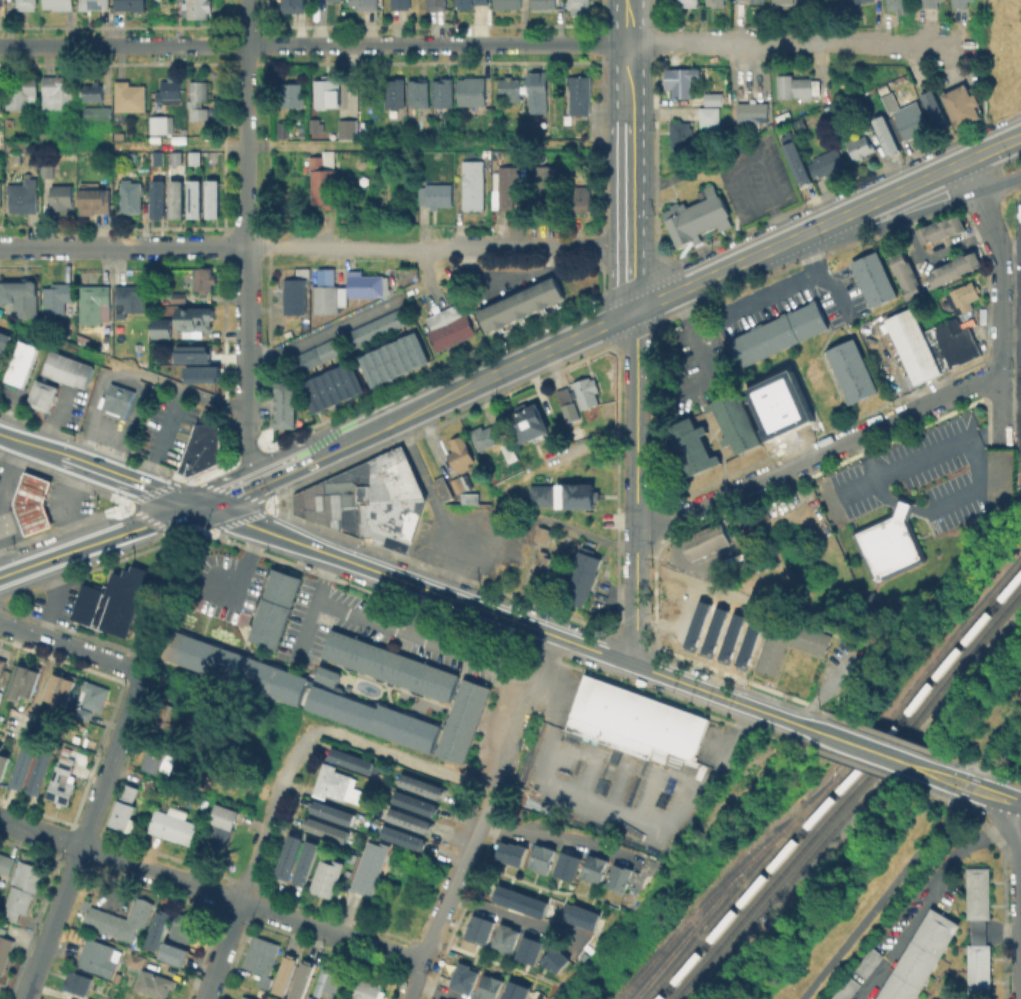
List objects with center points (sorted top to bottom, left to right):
building: (338, 0)
building: (757, 1)
building: (859, 1)
building: (689, 2)
building: (716, 2)
building: (786, 2)
building: (0, 3)
building: (59, 3)
building: (294, 3)
building: (578, 3)
building: (27, 4)
building: (95, 4)
building: (132, 4)
building: (468, 4)
building: (508, 4)
building: (543, 4)
building: (900, 4)
building: (931, 4)
building: (961, 4)
building: (366, 5)
building: (402, 5)
building: (437, 5)
building: (198, 8)
road: (654, 14)
road: (654, 43)
road: (794, 43)
road: (315, 44)
building: (682, 85)
building: (797, 85)
building: (884, 87)
building: (510, 88)
building: (472, 90)
building: (58, 91)
building: (93, 91)
building: (170, 91)
building: (395, 91)
building: (538, 91)
building: (22, 92)
building: (198, 92)
building: (327, 92)
building: (419, 92)
building: (443, 92)
building: (0, 94)
building: (293, 94)
road: (1004, 95)
building: (130, 96)
building: (579, 97)
building: (711, 98)
building: (891, 101)
building: (962, 108)
building: (489, 110)
building: (753, 111)
building: (98, 112)
building: (935, 113)
building: (201, 116)
building: (710, 118)
building: (10, 121)
building: (160, 123)
building: (912, 123)
building: (314, 124)
building: (349, 128)
building: (866, 128)
building: (283, 129)
building: (887, 134)
building: (120, 135)
building: (681, 135)
building: (2, 137)
building: (48, 139)
road: (316, 145)
building: (860, 146)
road: (993, 149)
road: (630, 156)
building: (17, 157)
building: (26, 157)
building: (158, 159)
building: (177, 159)
building: (197, 160)
building: (830, 160)
building: (795, 161)
building: (47, 169)
road: (670, 177)
building: (322, 179)
building: (545, 184)
building: (509, 185)
road: (999, 185)
building: (474, 187)
road: (1013, 189)
road: (773, 191)
building: (0, 194)
building: (437, 194)
building: (24, 195)
building: (131, 195)
building: (62, 196)
building: (583, 198)
road: (883, 199)
building: (179, 201)
building: (161, 202)
building: (197, 202)
building: (216, 202)
road: (981, 202)
building: (96, 204)
building: (695, 218)
road: (891, 222)
road: (778, 224)
building: (939, 228)
road: (734, 233)
road: (246, 243)
road: (1009, 244)
road: (24, 247)
road: (148, 247)
road: (347, 247)
road: (539, 247)
road: (935, 250)
building: (950, 267)
building: (903, 274)
road: (717, 275)
building: (204, 278)
building: (875, 282)
building: (366, 285)
road: (827, 287)
road: (771, 292)
building: (294, 295)
building: (57, 296)
building: (179, 296)
building: (326, 296)
building: (964, 297)
building: (21, 299)
building: (96, 299)
building: (131, 300)
building: (519, 303)
building: (198, 320)
building: (449, 326)
building: (380, 328)
building: (163, 330)
road: (324, 330)
building: (782, 337)
road: (1012, 338)
building: (83, 340)
road: (694, 340)
road: (1001, 343)
building: (3, 344)
road: (1011, 346)
building: (932, 347)
building: (190, 353)
building: (4, 356)
building: (319, 357)
building: (396, 362)
building: (23, 363)
building: (282, 364)
road: (516, 365)
building: (67, 368)
road: (122, 368)
road: (829, 372)
building: (851, 372)
building: (200, 373)
building: (335, 389)
building: (586, 391)
building: (41, 394)
building: (119, 397)
road: (1011, 400)
building: (568, 403)
building: (779, 404)
building: (286, 408)
building: (526, 422)
building: (737, 424)
building: (485, 435)
road: (163, 437)
road: (31, 445)
building: (202, 448)
building: (509, 451)
building: (692, 451)
building: (460, 453)
road: (818, 454)
road: (298, 463)
road: (909, 465)
road: (875, 474)
road: (130, 482)
building: (458, 484)
road: (977, 486)
building: (443, 487)
road: (636, 488)
building: (562, 492)
building: (367, 498)
building: (34, 505)
gas station: (34, 505)
road: (68, 505)
road: (436, 505)
road: (0, 506)
traffic signals: (198, 507)
road: (907, 507)
road: (710, 517)
road: (231, 521)
building: (543, 533)
road: (186, 534)
parking lot: (460, 538)
building: (704, 540)
road: (99, 542)
building: (893, 545)
road: (242, 564)
building: (547, 564)
road: (162, 570)
road: (325, 577)
building: (583, 577)
road: (168, 588)
building: (114, 596)
road: (52, 598)
building: (273, 607)
road: (356, 612)
building: (677, 613)
road: (505, 618)
building: (696, 625)
building: (713, 631)
building: (730, 637)
road: (505, 641)
building: (748, 643)
road: (70, 646)
building: (786, 649)
road: (473, 654)
building: (2, 665)
building: (388, 665)
building: (232, 666)
railway: (925, 667)
building: (326, 674)
building: (24, 677)
building: (59, 685)
building: (94, 695)
park: (987, 711)
road: (523, 712)
building: (84, 713)
building: (165, 716)
building: (372, 717)
building: (461, 719)
building: (636, 723)
road: (885, 735)
road: (996, 737)
road: (861, 747)
road: (295, 757)
road: (404, 757)
road: (112, 758)
building: (352, 758)
building: (3, 759)
building: (159, 759)
building: (23, 762)
road: (925, 762)
building: (41, 768)
road: (869, 770)
road: (918, 774)
building: (62, 780)
road: (979, 780)
building: (335, 783)
railway: (839, 784)
road: (967, 785)
building: (423, 786)
railway: (845, 792)
road: (972, 794)
railway: (851, 800)
building: (415, 801)
road: (1016, 801)
building: (126, 810)
building: (333, 811)
building: (224, 812)
building: (409, 819)
building: (174, 825)
building: (327, 828)
building: (403, 836)
building: (219, 838)
road: (562, 838)
road: (262, 842)
building: (513, 852)
building: (286, 856)
building: (543, 857)
building: (303, 862)
building: (6, 863)
building: (569, 866)
building: (597, 867)
building: (369, 870)
road: (1003, 871)
building: (28, 875)
building: (622, 875)
building: (327, 877)
building: (3, 880)
railway: (719, 885)
railway: (736, 889)
road: (211, 891)
building: (976, 892)
road: (452, 894)
road: (932, 896)
park: (874, 899)
road: (882, 899)
building: (518, 900)
building: (18, 901)
railway: (701, 915)
building: (582, 917)
road: (520, 919)
building: (119, 920)
road: (52, 922)
building: (186, 926)
building: (156, 928)
building: (478, 929)
building: (976, 931)
building: (508, 936)
building: (531, 949)
road: (222, 950)
building: (5, 951)
building: (178, 951)
building: (263, 955)
building: (99, 956)
building: (918, 956)
building: (555, 957)
building: (867, 962)
building: (976, 968)
building: (285, 972)
railway: (634, 976)
building: (150, 978)
building: (302, 978)
building: (462, 978)
building: (117, 979)
building: (334, 980)
street lamp: (791, 980)
building: (78, 982)
building: (491, 987)
building: (845, 988)
building: (364, 989)
building: (513, 989)
road: (438, 991)
building: (246, 997)
building: (312, 997)
building: (87, 998)
building: (89, 998)
building: (437, 998)

